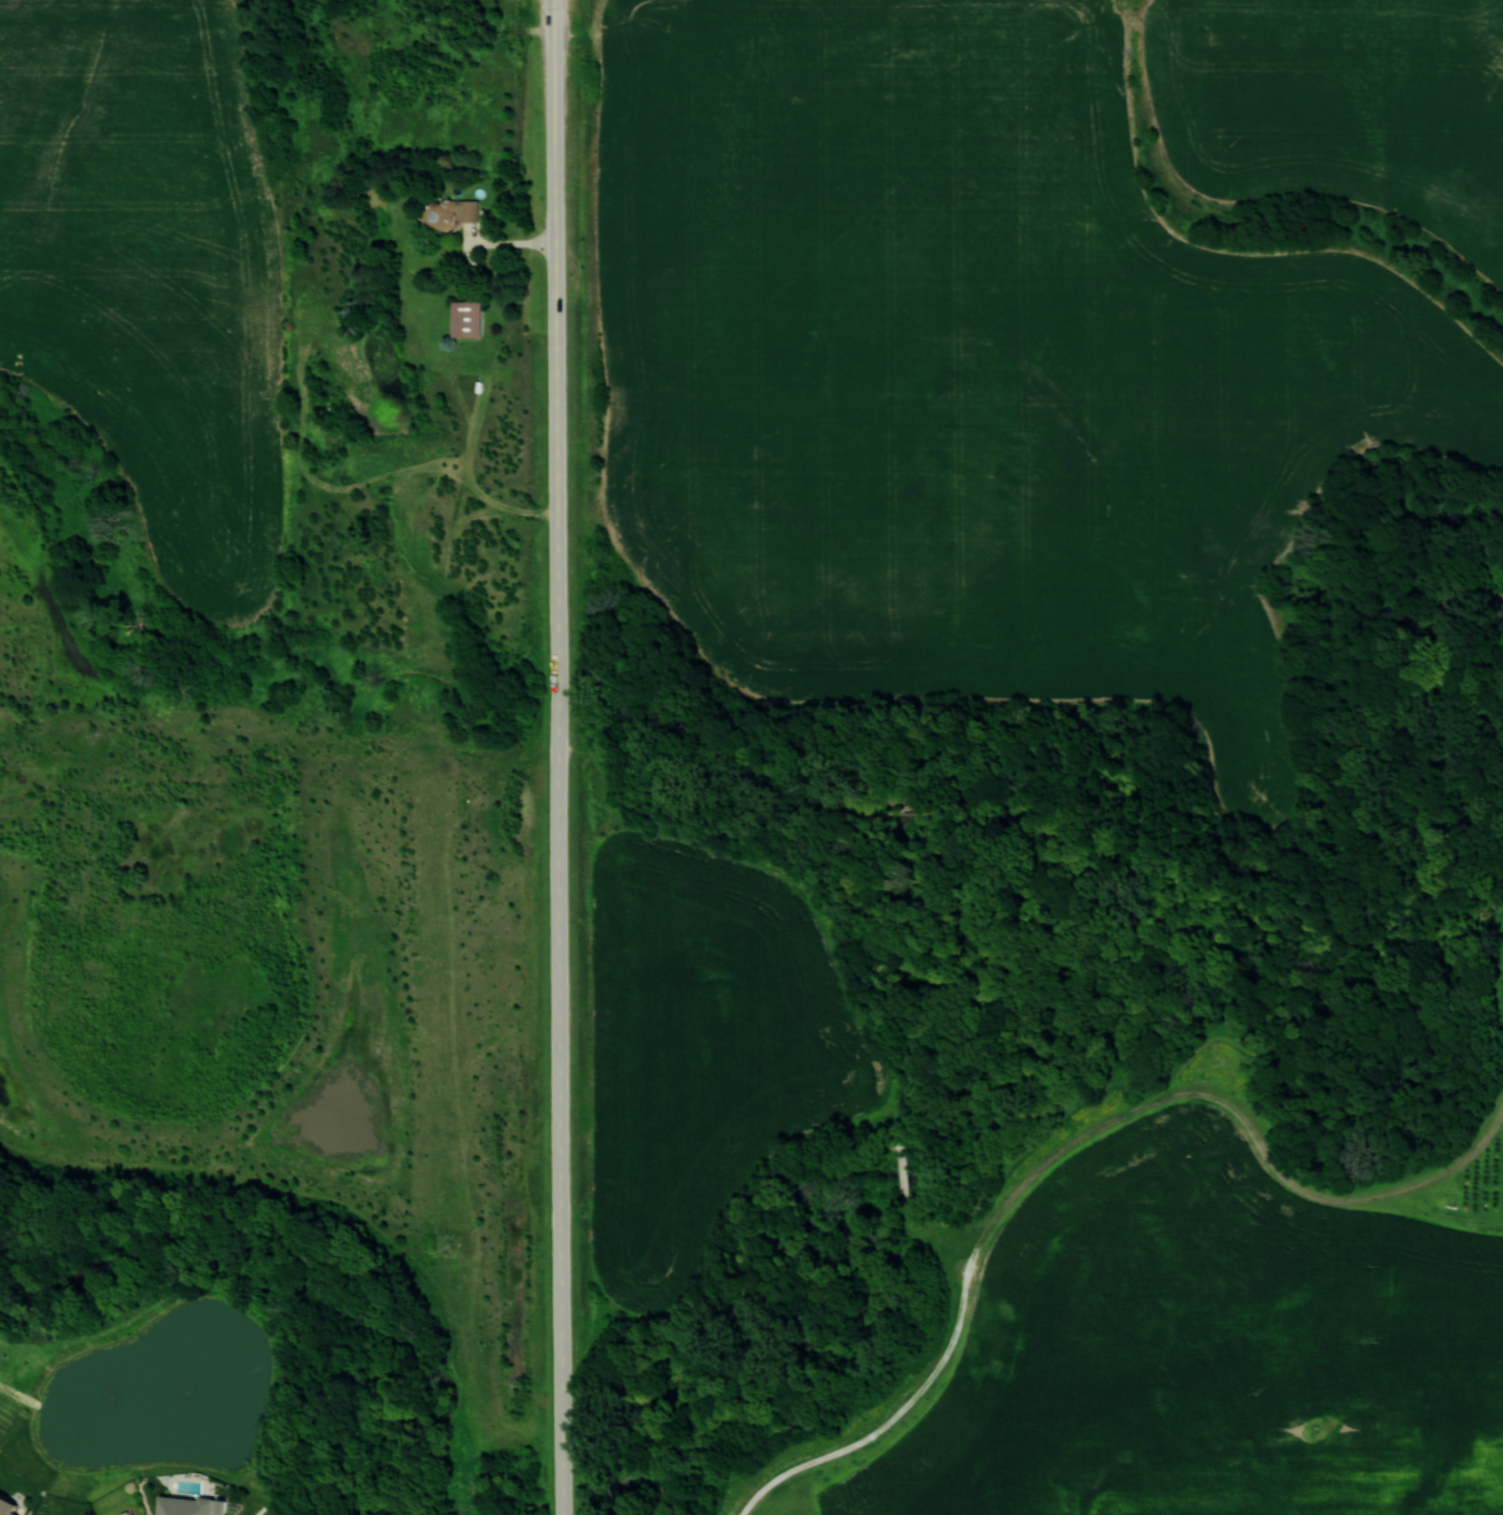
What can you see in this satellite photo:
building: (461, 210)
road: (557, 757)
building: (182, 1505)

